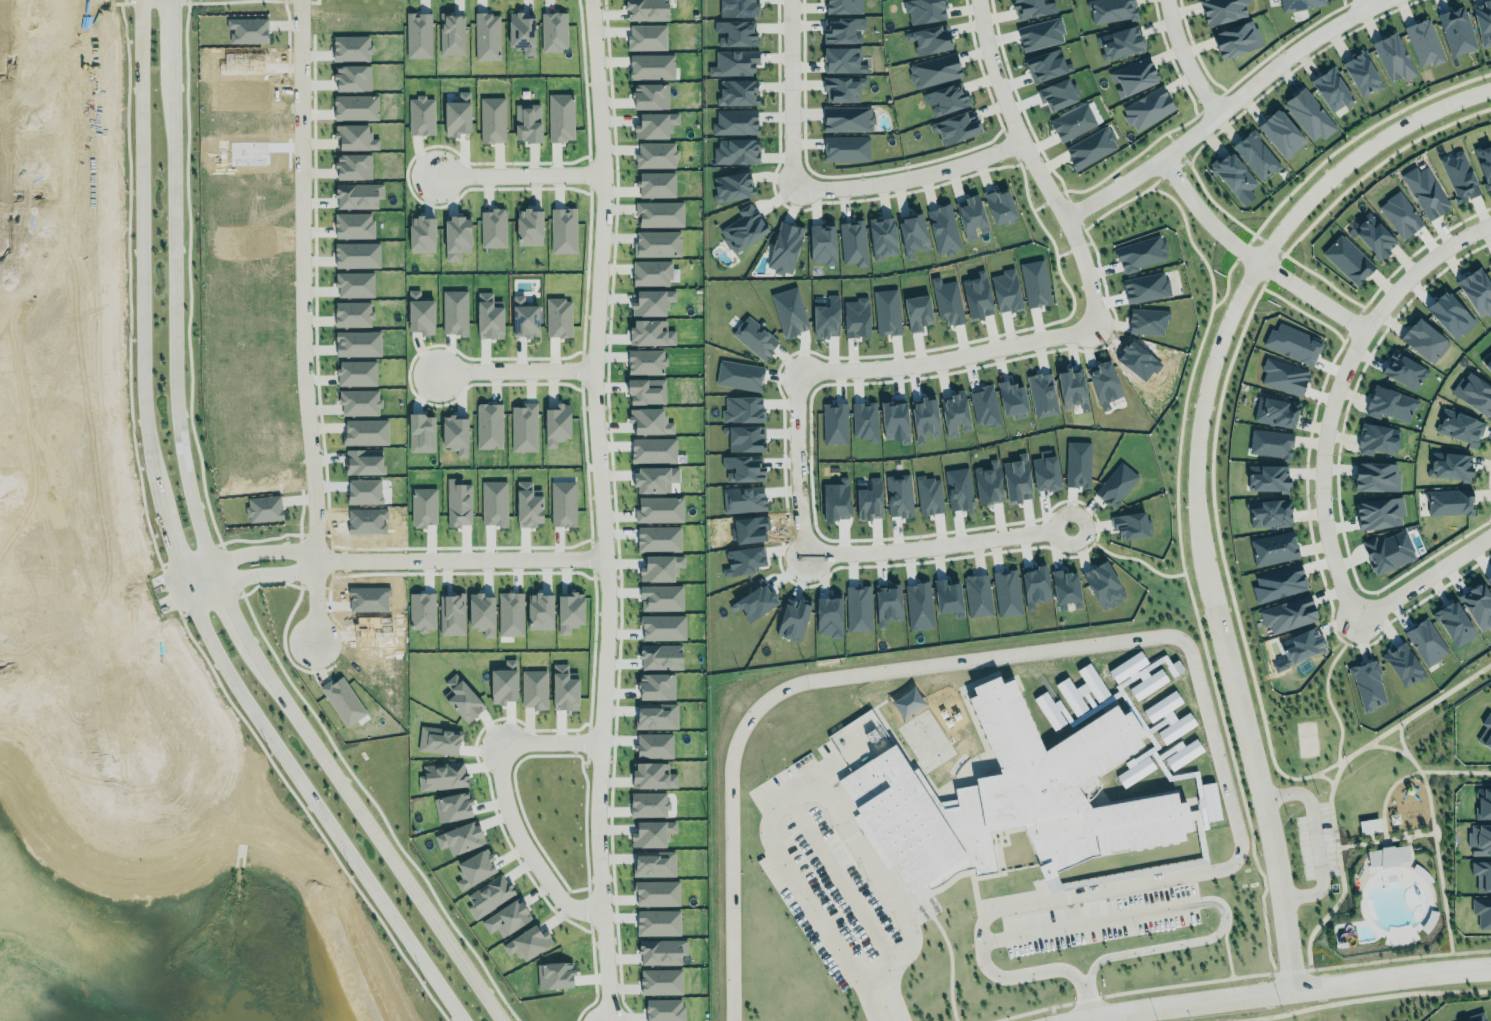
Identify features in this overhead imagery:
road: (299, 0)
road: (317, 0)
road: (188, 1)
road: (235, 1)
road: (120, 2)
road: (153, 2)
road: (1363, 3)
building: (1298, 4)
building: (842, 6)
building: (737, 7)
building: (1032, 8)
building: (646, 9)
building: (1110, 9)
building: (1222, 10)
building: (924, 11)
building: (1483, 21)
building: (843, 30)
building: (522, 31)
building: (553, 31)
building: (1456, 31)
building: (451, 33)
building: (735, 33)
building: (1040, 34)
building: (417, 35)
road: (171, 36)
building: (486, 36)
building: (646, 36)
building: (1235, 36)
building: (928, 39)
building: (1120, 42)
building: (1422, 42)
building: (350, 48)
building: (1392, 56)
building: (844, 58)
road: (1184, 59)
building: (733, 63)
building: (1045, 65)
building: (651, 66)
building: (933, 69)
building: (1360, 72)
building: (1132, 76)
building: (352, 77)
building: (1331, 87)
building: (841, 89)
road: (17, 91)
building: (737, 92)
building: (1056, 94)
building: (650, 96)
building: (943, 96)
building: (1146, 106)
building: (355, 107)
road: (1222, 108)
building: (457, 114)
building: (1309, 114)
building: (421, 115)
building: (560, 117)
building: (846, 117)
building: (492, 119)
building: (528, 120)
building: (1072, 121)
building: (735, 122)
building: (654, 125)
building: (954, 127)
building: (1280, 132)
building: (354, 133)
road: (35, 136)
building: (1089, 145)
building: (845, 147)
building: (736, 151)
building: (1255, 154)
building: (656, 155)
building: (1482, 158)
building: (353, 166)
road: (1030, 166)
road: (518, 175)
road: (588, 175)
building: (1459, 176)
building: (1233, 177)
building: (656, 184)
road: (811, 185)
building: (732, 186)
building: (1425, 191)
building: (356, 194)
building: (999, 205)
building: (658, 212)
building: (1400, 214)
building: (970, 216)
building: (353, 225)
building: (743, 226)
building: (492, 227)
building: (529, 227)
building: (941, 227)
building: (562, 230)
building: (912, 232)
building: (421, 234)
building: (1373, 235)
building: (456, 236)
building: (879, 236)
building: (852, 242)
building: (657, 243)
building: (822, 243)
building: (783, 246)
building: (1141, 252)
building: (357, 254)
road: (1247, 254)
building: (1347, 260)
building: (1490, 261)
road: (586, 263)
road: (315, 267)
building: (651, 272)
road: (13, 273)
road: (188, 274)
building: (1035, 283)
building: (354, 284)
road: (128, 286)
building: (1146, 287)
building: (1005, 290)
building: (1476, 291)
building: (975, 297)
building: (946, 301)
building: (651, 302)
building: (789, 311)
building: (886, 311)
building: (917, 312)
building: (353, 313)
building: (420, 313)
building: (1450, 313)
building: (825, 316)
building: (488, 317)
building: (856, 317)
building: (524, 318)
road: (174, 320)
road: (302, 321)
building: (650, 331)
building: (754, 338)
building: (1424, 340)
building: (1292, 341)
building: (356, 343)
road: (945, 360)
building: (1487, 360)
building: (645, 361)
road: (581, 369)
building: (1405, 369)
road: (514, 371)
building: (356, 372)
building: (1282, 375)
building: (1103, 383)
road: (1328, 386)
building: (1072, 389)
building: (646, 390)
building: (1473, 392)
building: (1042, 394)
building: (1013, 397)
building: (359, 402)
building: (1390, 404)
building: (742, 409)
building: (1273, 409)
building: (954, 413)
building: (924, 415)
building: (554, 421)
building: (649, 421)
building: (894, 421)
building: (487, 424)
building: (523, 427)
building: (1460, 427)
building: (365, 431)
building: (455, 433)
building: (745, 438)
building: (1376, 439)
building: (1270, 442)
building: (653, 449)
road: (19, 451)
building: (364, 461)
building: (1450, 465)
road: (795, 466)
building: (742, 468)
road: (1192, 472)
building: (1045, 473)
building: (1269, 475)
building: (1375, 475)
building: (654, 479)
building: (1016, 480)
building: (986, 484)
building: (364, 490)
building: (898, 495)
building: (928, 495)
building: (743, 499)
building: (835, 499)
building: (868, 499)
building: (1448, 500)
building: (562, 503)
building: (659, 508)
road: (600, 510)
building: (1266, 511)
building: (1378, 511)
road: (614, 512)
building: (740, 523)
road: (315, 533)
road: (61, 538)
building: (658, 538)
road: (260, 540)
road: (330, 540)
road: (936, 547)
road: (174, 548)
building: (1273, 548)
building: (1388, 551)
road: (267, 552)
road: (190, 555)
road: (462, 558)
road: (299, 559)
road: (331, 561)
road: (233, 567)
building: (660, 567)
road: (198, 571)
road: (1419, 573)
road: (253, 574)
building: (1488, 580)
building: (1278, 582)
road: (269, 583)
building: (1034, 583)
building: (1103, 585)
road: (314, 586)
road: (170, 590)
road: (137, 591)
building: (1006, 592)
building: (977, 594)
building: (660, 597)
building: (754, 601)
road: (210, 602)
building: (887, 602)
building: (1477, 603)
road: (230, 605)
building: (918, 605)
building: (858, 608)
building: (569, 611)
road: (144, 612)
building: (1288, 614)
road: (94, 618)
building: (792, 619)
building: (1452, 619)
building: (663, 627)
road: (1137, 635)
road: (44, 636)
building: (1426, 640)
building: (1303, 642)
building: (661, 656)
building: (1402, 663)
road: (318, 670)
building: (1366, 682)
building: (656, 686)
building: (533, 688)
road: (122, 696)
building: (342, 700)
building: (656, 716)
road: (505, 717)
building: (1485, 732)
road: (588, 740)
building: (654, 745)
building: (652, 775)
road: (796, 787)
building: (1009, 794)
road: (504, 800)
building: (1483, 802)
building: (648, 804)
road: (377, 808)
road: (310, 819)
building: (1369, 825)
road: (371, 832)
building: (651, 833)
building: (1479, 839)
road: (1315, 841)
building: (1387, 855)
road: (546, 857)
building: (654, 864)
building: (474, 868)
road: (833, 869)
building: (1480, 871)
building: (656, 892)
road: (1181, 902)
road: (589, 904)
building: (1482, 911)
building: (657, 922)
building: (527, 942)
building: (661, 951)
road: (595, 975)
river: (74, 980)
building: (661, 981)
road: (1276, 990)
road: (883, 992)
road: (857, 996)
building: (665, 1009)
road: (1101, 1016)
road: (1076, 1019)
building: (1480, 1019)

